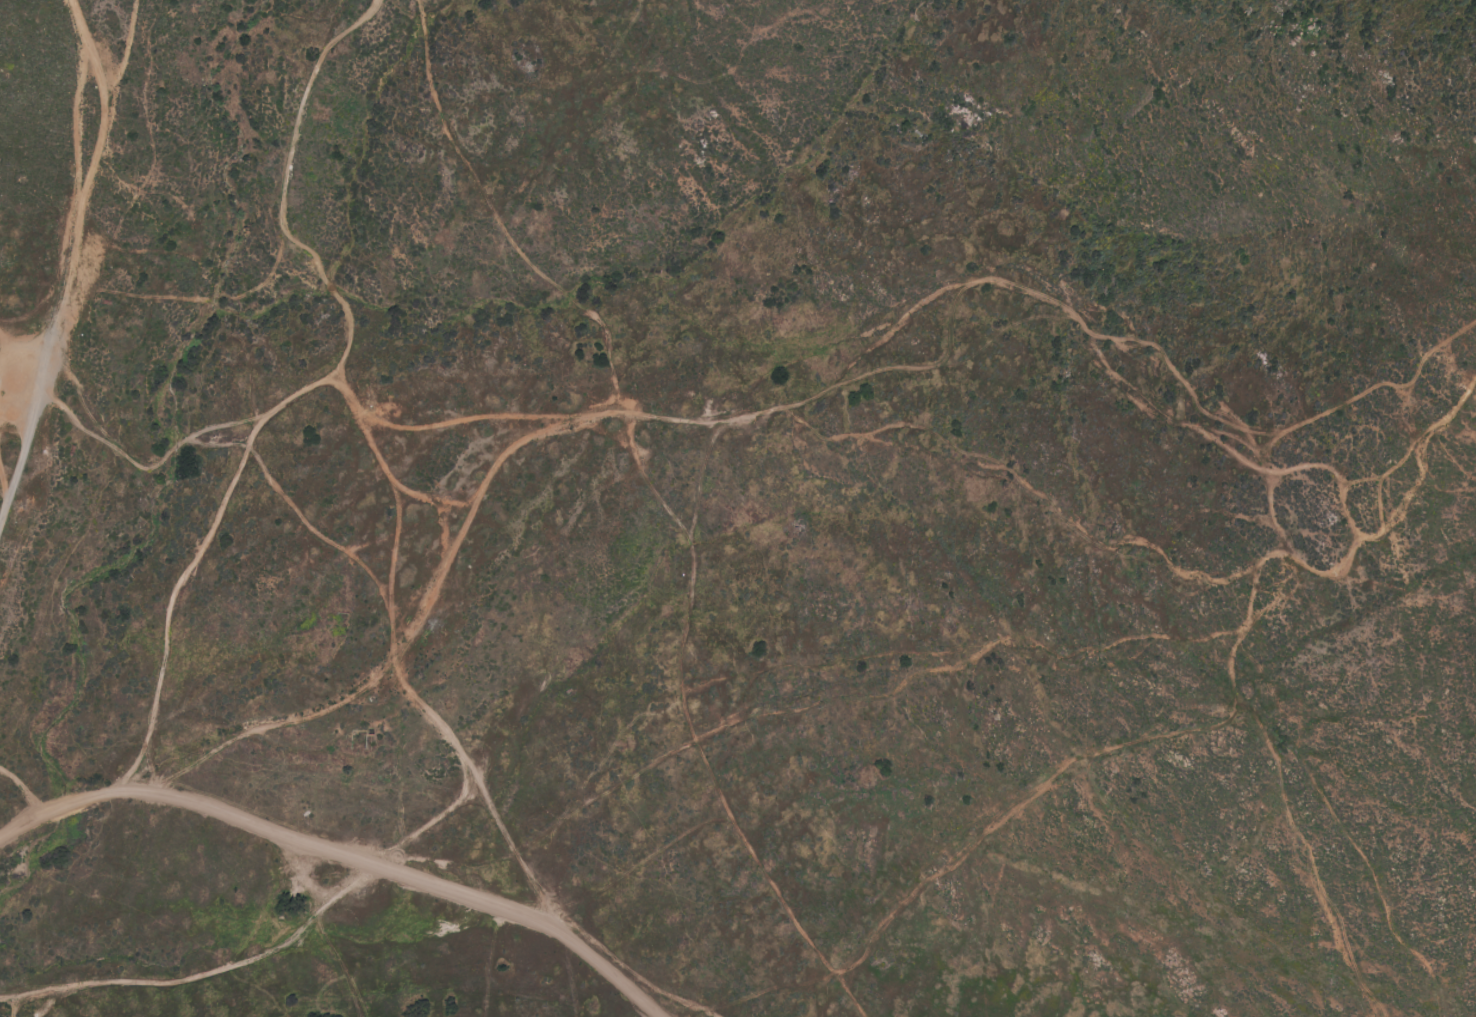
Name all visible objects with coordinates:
road: (73, 264)
road: (941, 299)
road: (1183, 373)
road: (319, 390)
road: (728, 408)
road: (879, 433)
road: (1425, 462)
road: (1296, 471)
road: (464, 800)
road: (1291, 811)
road: (510, 836)
road: (344, 852)
road: (612, 954)
road: (254, 959)
road: (1451, 1009)

